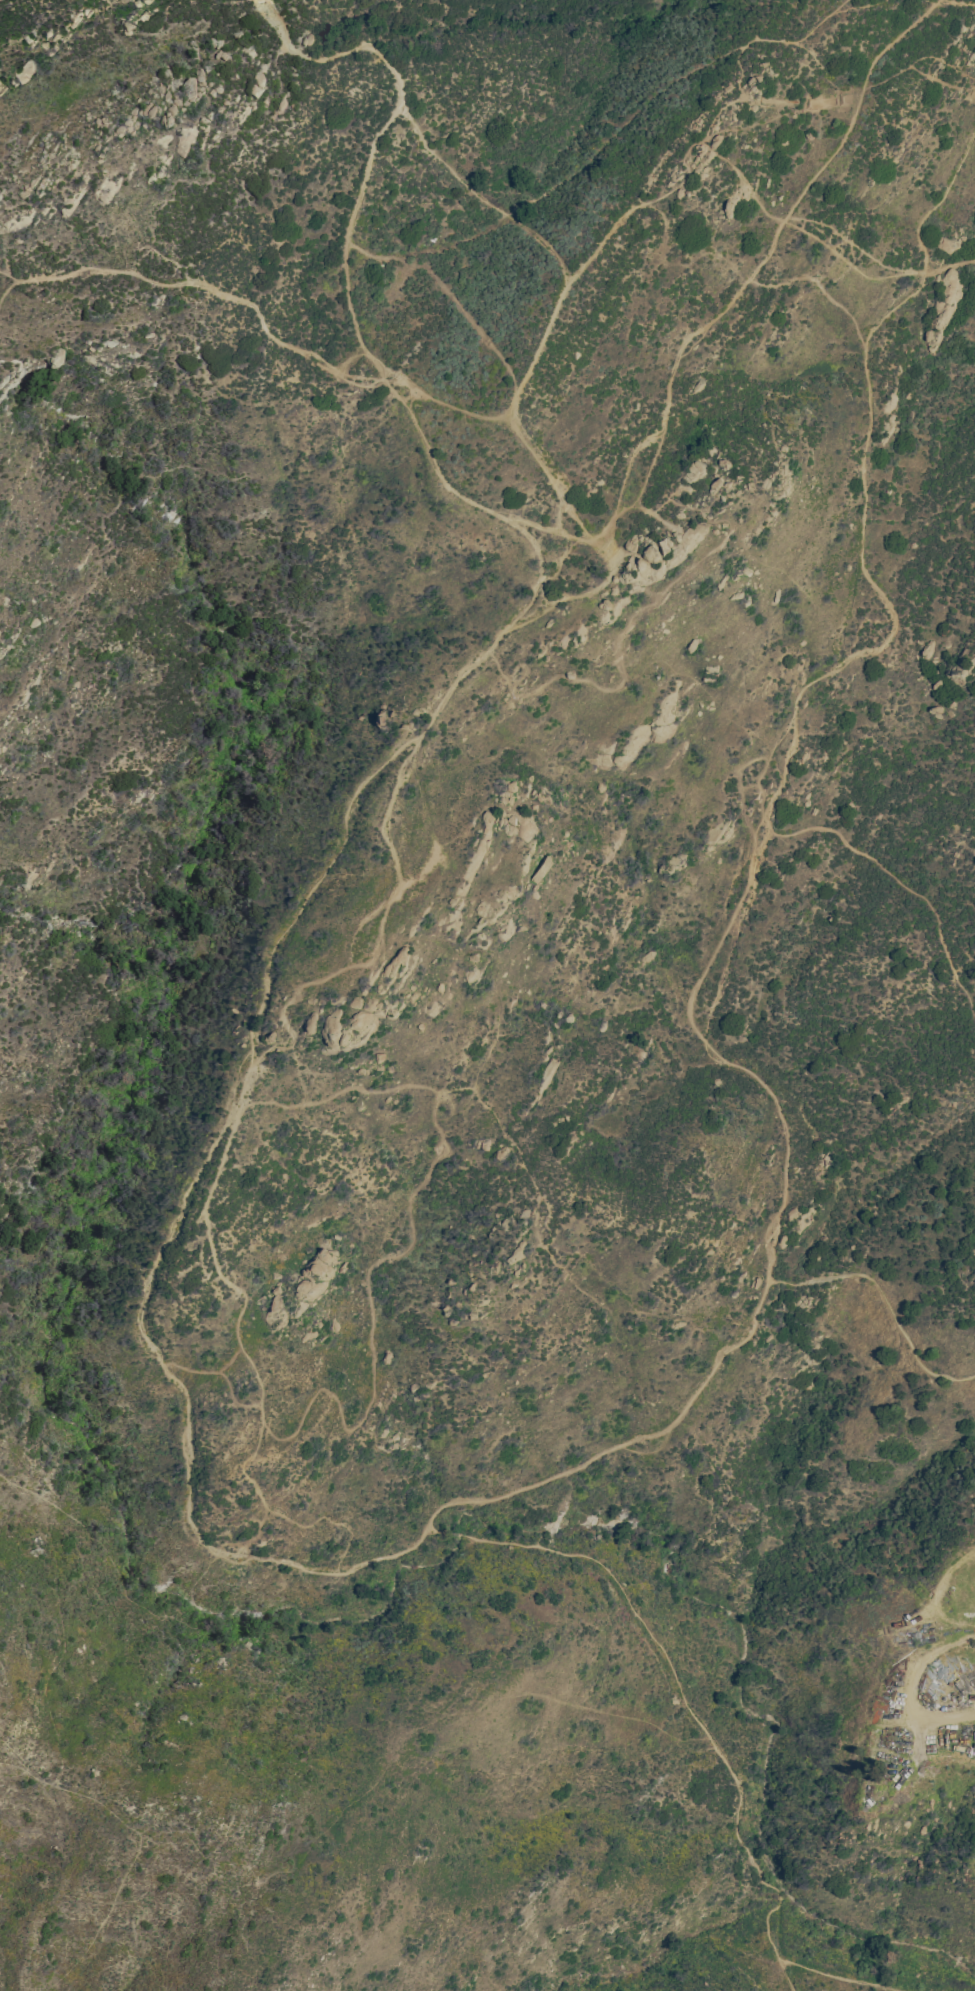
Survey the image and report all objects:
road: (972, 0)
road: (931, 1)
road: (828, 17)
road: (712, 56)
road: (824, 242)
road: (923, 242)
road: (194, 281)
road: (538, 348)
road: (676, 372)
road: (535, 548)
road: (579, 593)
road: (798, 693)
road: (417, 870)
road: (903, 880)
road: (315, 884)
road: (720, 977)
road: (228, 1117)
road: (529, 1210)
road: (410, 1242)
road: (886, 1299)
road: (251, 1363)
road: (208, 1370)
road: (235, 1399)
road: (940, 1596)
road: (924, 1664)
road: (784, 1975)

